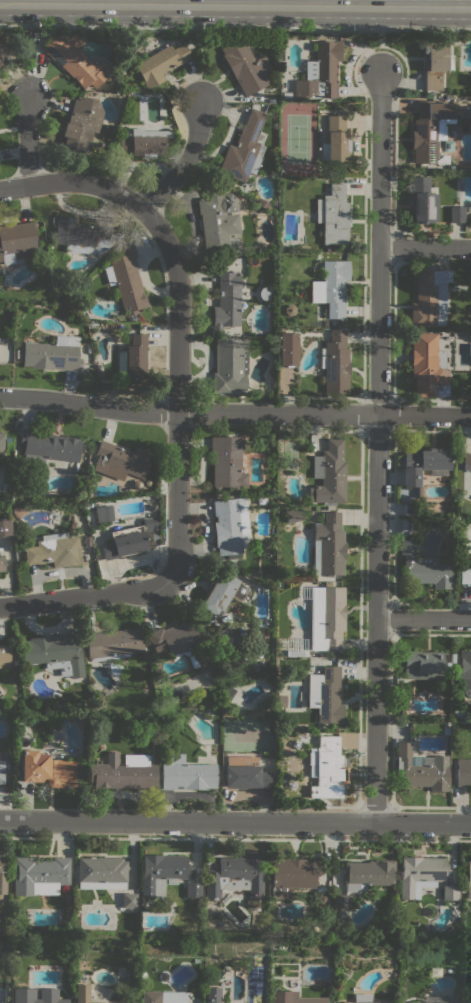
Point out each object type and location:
road: (235, 6)
road: (235, 27)
building: (3, 50)
road: (381, 53)
building: (436, 57)
building: (74, 60)
road: (25, 62)
building: (160, 64)
road: (199, 64)
building: (245, 66)
building: (321, 72)
building: (81, 123)
building: (430, 131)
building: (334, 139)
road: (27, 142)
building: (143, 142)
building: (448, 145)
building: (243, 149)
road: (379, 157)
road: (74, 181)
building: (423, 201)
building: (469, 209)
building: (456, 214)
building: (333, 215)
building: (218, 220)
building: (82, 235)
building: (17, 241)
road: (424, 246)
building: (329, 249)
building: (127, 280)
building: (332, 287)
building: (265, 293)
building: (430, 297)
building: (227, 301)
building: (334, 323)
road: (177, 324)
building: (288, 348)
building: (16, 353)
building: (52, 354)
building: (132, 358)
building: (335, 362)
building: (230, 365)
building: (428, 366)
road: (187, 412)
road: (423, 414)
building: (1, 443)
building: (48, 447)
building: (86, 447)
building: (121, 461)
building: (467, 461)
building: (227, 462)
building: (424, 465)
building: (328, 475)
building: (6, 486)
building: (101, 514)
building: (292, 515)
building: (150, 523)
building: (231, 526)
building: (405, 526)
building: (4, 527)
building: (418, 533)
road: (376, 534)
building: (154, 536)
building: (124, 545)
building: (328, 545)
building: (54, 550)
building: (2, 563)
building: (424, 568)
building: (465, 577)
road: (86, 594)
building: (221, 594)
building: (325, 615)
road: (423, 618)
building: (175, 639)
building: (113, 644)
building: (296, 647)
building: (54, 653)
building: (4, 656)
building: (452, 660)
building: (422, 665)
building: (463, 671)
building: (229, 693)
building: (325, 694)
building: (87, 709)
building: (34, 719)
building: (80, 721)
building: (47, 769)
building: (327, 769)
building: (421, 769)
building: (2, 772)
building: (123, 772)
building: (463, 772)
building: (186, 773)
building: (245, 773)
road: (235, 821)
building: (101, 872)
building: (161, 873)
building: (3, 874)
building: (368, 874)
building: (39, 875)
building: (292, 875)
building: (420, 875)
building: (235, 876)
building: (468, 879)
building: (193, 890)
building: (449, 892)
building: (321, 899)
building: (129, 900)
building: (340, 902)
building: (192, 936)
building: (141, 975)
building: (23, 993)
building: (83, 993)
building: (211, 995)
building: (162, 997)
building: (292, 998)
building: (360, 999)
building: (436, 999)

